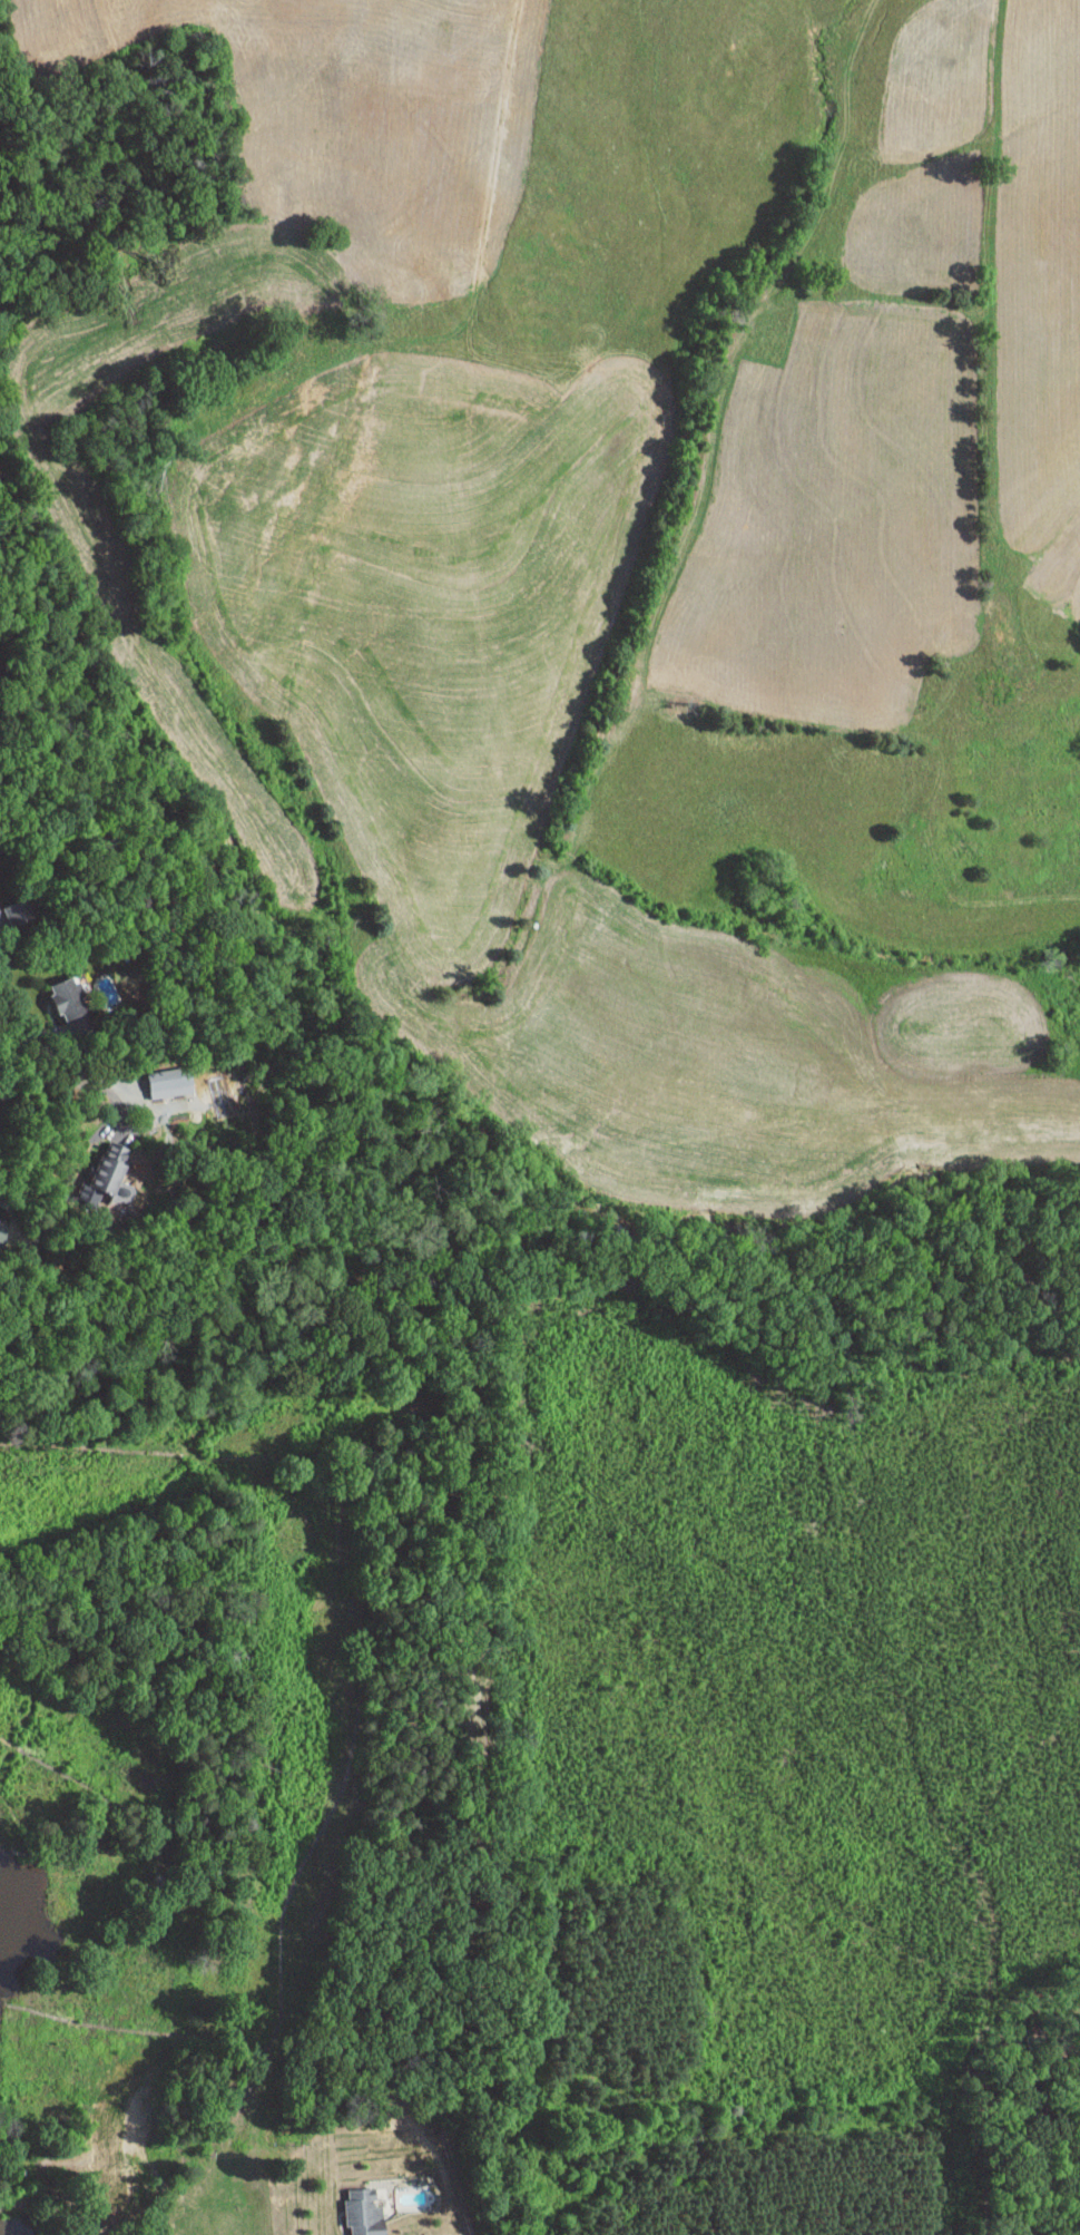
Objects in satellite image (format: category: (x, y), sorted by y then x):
building: (60, 990)
building: (161, 1075)
road: (75, 1083)
building: (104, 1161)
road: (13, 1213)
building: (363, 2210)

